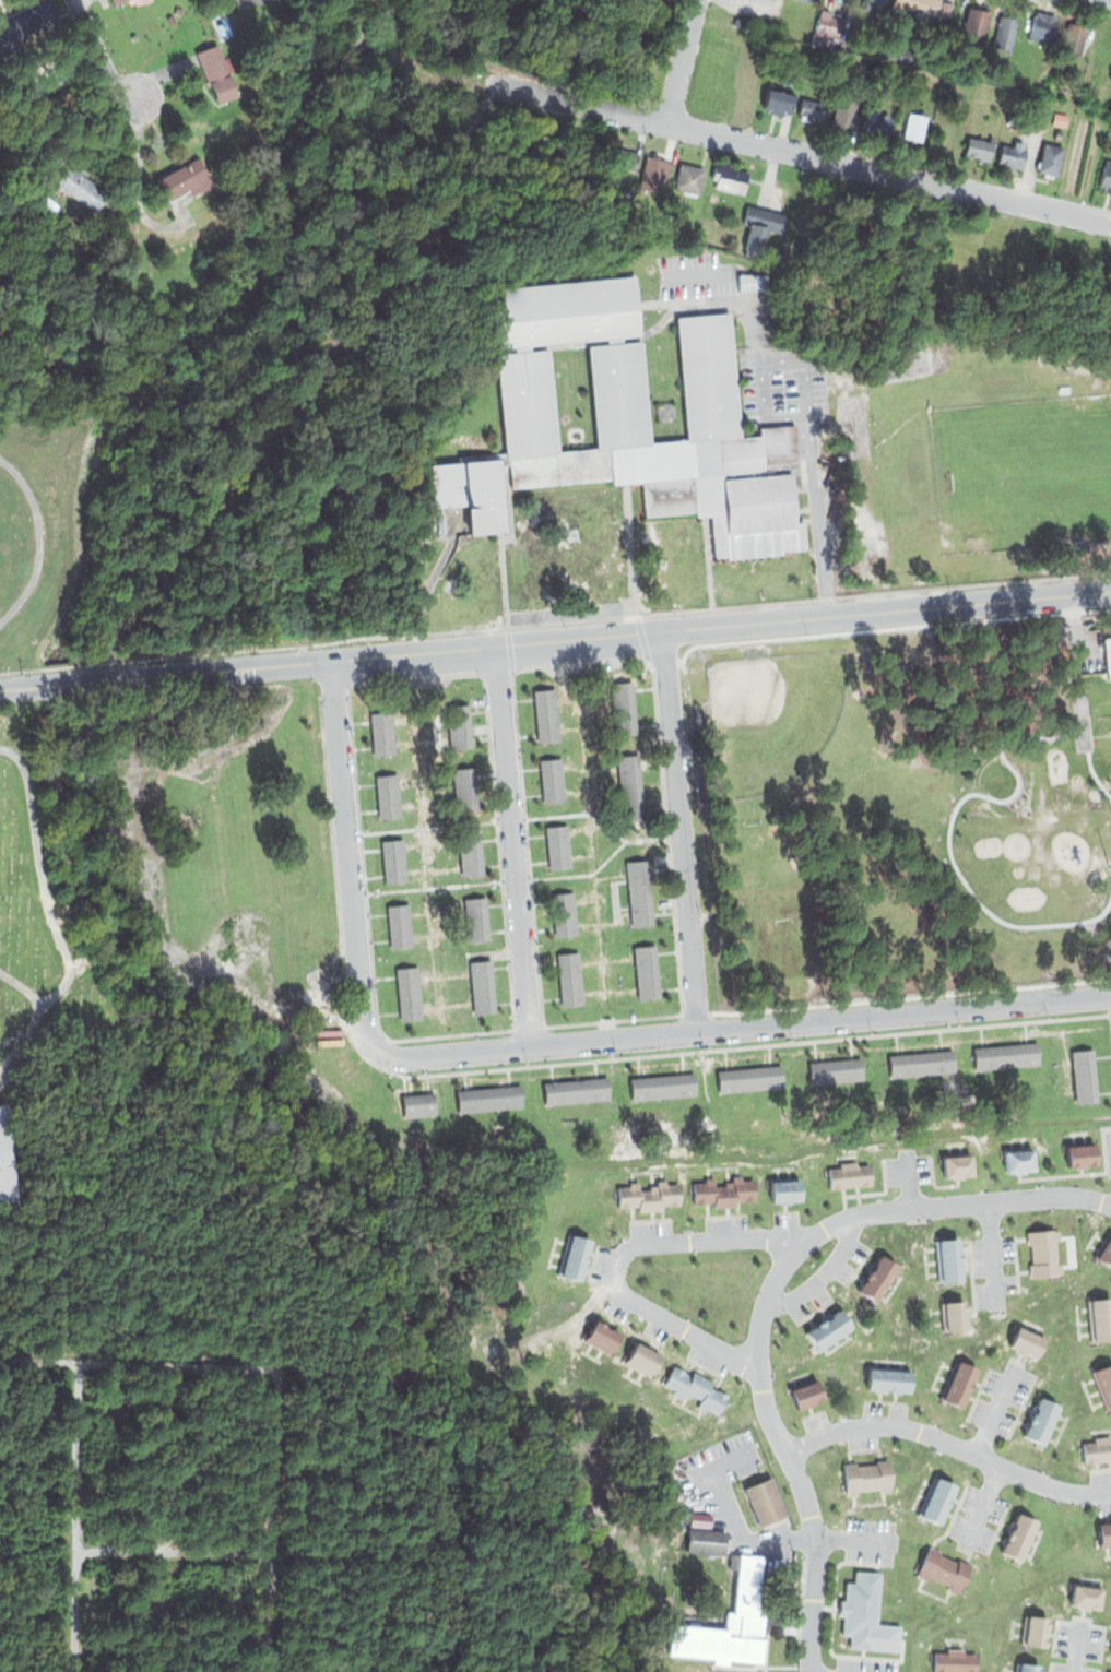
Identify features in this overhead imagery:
building: (807, 0)
building: (117, 1)
building: (267, 1)
building: (925, 5)
building: (874, 7)
building: (28, 22)
building: (976, 24)
building: (827, 25)
building: (1043, 25)
building: (1107, 25)
building: (1005, 32)
building: (1072, 39)
road: (92, 58)
road: (682, 62)
building: (54, 71)
building: (217, 71)
building: (553, 72)
road: (491, 88)
building: (778, 102)
building: (811, 110)
building: (844, 116)
building: (1060, 119)
building: (879, 127)
building: (914, 127)
building: (1110, 133)
building: (1057, 135)
building: (979, 147)
building: (591, 152)
road: (800, 153)
building: (1012, 153)
building: (1050, 158)
building: (625, 161)
building: (653, 173)
building: (1107, 174)
building: (189, 178)
building: (690, 179)
building: (731, 179)
building: (82, 187)
building: (760, 224)
building: (678, 232)
building: (777, 252)
building: (1065, 261)
building: (1098, 265)
building: (753, 283)
building: (566, 310)
building: (710, 377)
road: (306, 381)
building: (619, 393)
building: (528, 403)
park: (1048, 477)
building: (670, 485)
park: (37, 526)
road: (39, 539)
building: (1095, 548)
road: (610, 617)
road: (720, 626)
road: (643, 639)
road: (511, 650)
building: (1108, 655)
road: (55, 667)
road: (165, 675)
building: (623, 709)
park: (771, 715)
building: (546, 716)
building: (459, 727)
building: (382, 734)
building: (551, 780)
building: (630, 786)
building: (464, 790)
building: (387, 796)
road: (681, 831)
road: (512, 846)
building: (557, 846)
building: (471, 854)
building: (392, 859)
building: (639, 892)
park: (70, 906)
building: (563, 914)
building: (476, 917)
road: (50, 918)
building: (399, 925)
road: (81, 963)
building: (647, 972)
building: (570, 977)
building: (481, 986)
road: (23, 988)
building: (409, 992)
road: (547, 1043)
building: (1007, 1057)
building: (921, 1064)
building: (835, 1071)
building: (1085, 1077)
building: (749, 1078)
building: (662, 1086)
building: (576, 1091)
building: (488, 1099)
building: (418, 1106)
building: (1082, 1154)
building: (1019, 1160)
building: (5, 1162)
building: (957, 1166)
building: (850, 1174)
building: (783, 1190)
building: (724, 1193)
building: (647, 1197)
road: (956, 1207)
building: (1106, 1252)
building: (1043, 1253)
road: (618, 1256)
building: (576, 1257)
building: (949, 1260)
road: (823, 1274)
building: (878, 1279)
building: (955, 1316)
building: (1100, 1318)
building: (830, 1330)
building: (603, 1338)
building: (1028, 1340)
building: (642, 1360)
road: (144, 1363)
building: (888, 1379)
building: (1104, 1379)
building: (960, 1385)
building: (696, 1388)
building: (807, 1395)
building: (1043, 1421)
road: (950, 1443)
road: (785, 1448)
building: (1097, 1449)
building: (866, 1475)
building: (766, 1501)
building: (937, 1501)
road: (78, 1517)
park: (131, 1519)
road: (270, 1521)
building: (1104, 1534)
building: (1020, 1537)
building: (706, 1540)
road: (174, 1552)
building: (943, 1568)
building: (1087, 1597)
building: (862, 1609)
building: (732, 1620)
building: (1037, 1629)
building: (953, 1660)
building: (1029, 1667)

